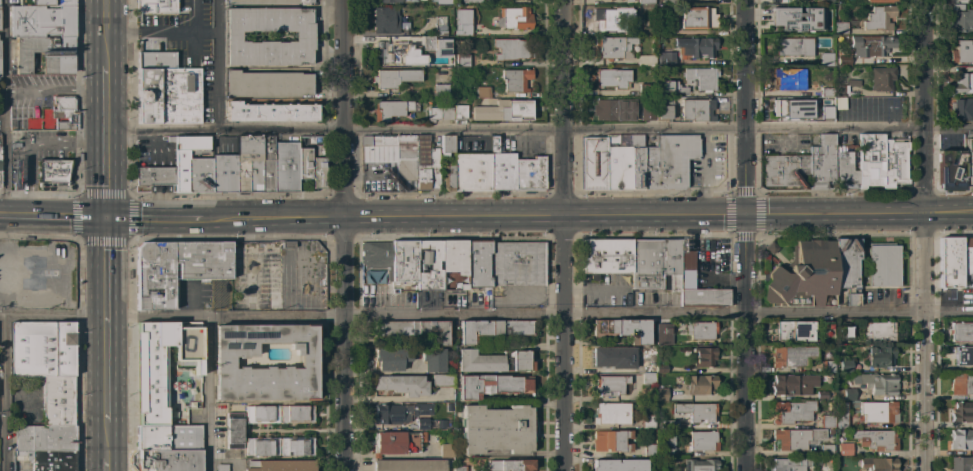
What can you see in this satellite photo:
building: (389, 1)
building: (470, 1)
building: (827, 1)
building: (880, 1)
building: (269, 2)
building: (443, 2)
building: (645, 2)
building: (670, 2)
building: (45, 3)
building: (155, 7)
building: (958, 7)
building: (613, 17)
building: (514, 18)
building: (697, 18)
building: (879, 18)
building: (795, 19)
building: (386, 20)
building: (42, 21)
building: (961, 21)
building: (463, 22)
building: (440, 26)
building: (845, 26)
building: (645, 28)
building: (662, 29)
road: (161, 30)
road: (106, 31)
building: (304, 36)
building: (436, 44)
building: (698, 46)
building: (793, 46)
building: (871, 46)
building: (614, 47)
building: (512, 49)
building: (962, 52)
building: (45, 54)
building: (395, 54)
building: (667, 59)
building: (827, 59)
building: (462, 60)
building: (646, 60)
building: (843, 60)
building: (394, 78)
building: (612, 78)
building: (882, 78)
building: (516, 79)
building: (702, 79)
building: (784, 80)
building: (267, 84)
building: (962, 84)
building: (671, 87)
building: (845, 88)
building: (166, 90)
building: (441, 90)
building: (645, 90)
road: (55, 91)
building: (481, 92)
building: (826, 93)
road: (925, 106)
road: (5, 107)
road: (747, 107)
building: (782, 107)
road: (562, 108)
road: (342, 109)
building: (697, 109)
building: (961, 109)
building: (390, 110)
building: (614, 110)
building: (504, 111)
building: (664, 111)
building: (65, 112)
building: (460, 112)
building: (648, 112)
building: (825, 112)
building: (269, 113)
building: (440, 114)
road: (2, 117)
road: (217, 120)
road: (658, 127)
road: (280, 129)
road: (105, 138)
road: (66, 144)
building: (446, 145)
building: (393, 157)
building: (636, 160)
building: (668, 160)
building: (881, 160)
building: (618, 161)
building: (969, 161)
building: (594, 162)
building: (267, 163)
building: (304, 163)
building: (822, 163)
building: (192, 164)
building: (249, 164)
building: (422, 165)
building: (286, 167)
building: (501, 167)
building: (844, 169)
building: (434, 170)
building: (786, 170)
building: (950, 170)
building: (471, 171)
building: (51, 172)
building: (318, 172)
building: (224, 173)
building: (530, 173)
building: (154, 175)
building: (447, 176)
road: (29, 181)
road: (882, 214)
road: (949, 214)
road: (52, 215)
traffic signals: (105, 215)
road: (794, 215)
road: (157, 216)
road: (702, 216)
traffic signals: (749, 216)
road: (609, 217)
road: (276, 218)
road: (453, 218)
building: (770, 247)
building: (967, 256)
building: (377, 257)
building: (606, 257)
building: (687, 259)
building: (404, 261)
building: (950, 262)
building: (478, 264)
building: (517, 264)
building: (655, 264)
building: (428, 265)
building: (453, 265)
building: (883, 265)
building: (847, 268)
building: (204, 271)
building: (34, 272)
building: (802, 276)
road: (595, 287)
road: (528, 296)
building: (704, 297)
building: (275, 300)
road: (655, 312)
road: (836, 312)
road: (949, 312)
road: (454, 314)
road: (277, 317)
road: (104, 318)
road: (107, 325)
building: (824, 328)
building: (413, 330)
building: (491, 330)
building: (623, 330)
building: (700, 330)
building: (793, 331)
building: (879, 331)
building: (962, 331)
building: (663, 333)
building: (844, 333)
road: (925, 342)
road: (564, 343)
road: (746, 343)
road: (344, 345)
building: (42, 349)
building: (962, 355)
building: (792, 356)
building: (880, 356)
building: (614, 357)
building: (703, 357)
building: (391, 359)
building: (432, 359)
building: (494, 361)
building: (160, 362)
building: (224, 364)
building: (845, 364)
building: (648, 366)
building: (828, 366)
building: (661, 368)
building: (648, 378)
building: (442, 380)
building: (880, 383)
building: (962, 383)
building: (701, 384)
building: (793, 384)
building: (402, 385)
building: (492, 385)
building: (610, 385)
building: (846, 392)
road: (5, 393)
road: (209, 394)
building: (661, 394)
building: (821, 395)
road: (396, 399)
building: (57, 401)
building: (792, 411)
building: (697, 412)
building: (878, 412)
building: (962, 412)
building: (399, 413)
building: (611, 413)
building: (261, 414)
building: (296, 414)
building: (841, 414)
building: (647, 421)
building: (827, 421)
building: (433, 423)
building: (670, 424)
building: (497, 429)
building: (234, 430)
building: (830, 431)
building: (169, 437)
building: (45, 438)
building: (797, 438)
building: (876, 439)
building: (961, 439)
building: (611, 441)
building: (703, 441)
building: (396, 442)
building: (667, 444)
building: (262, 446)
building: (296, 446)
building: (648, 449)
building: (845, 449)
building: (446, 450)
building: (827, 450)
road: (107, 454)
building: (50, 460)
building: (166, 460)
building: (450, 463)
building: (789, 464)
building: (879, 464)
building: (961, 464)
building: (280, 465)
building: (409, 465)
building: (510, 465)
building: (619, 465)
building: (700, 465)
building: (221, 467)
building: (460, 468)

